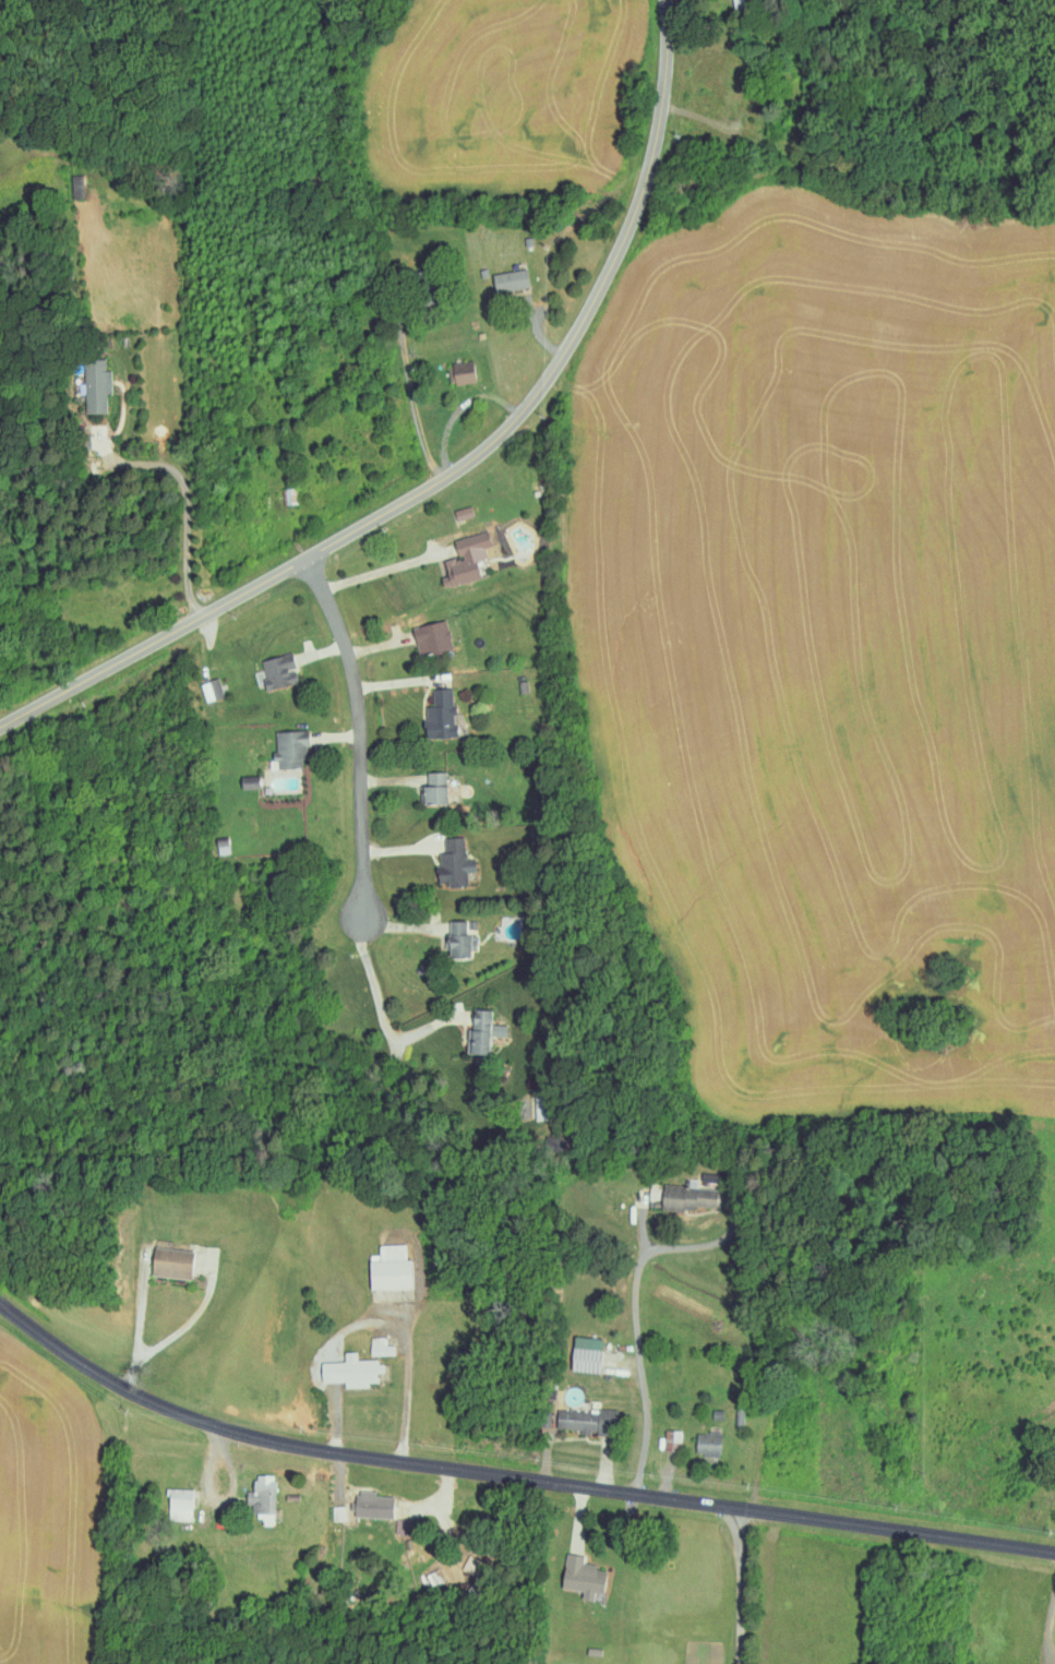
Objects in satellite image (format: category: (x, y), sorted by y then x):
building: (738, 2)
building: (509, 280)
road: (543, 335)
building: (460, 373)
building: (95, 386)
road: (413, 393)
road: (459, 409)
road: (460, 467)
building: (289, 496)
road: (185, 503)
building: (463, 513)
building: (465, 561)
road: (385, 571)
building: (431, 638)
road: (380, 649)
road: (323, 650)
building: (278, 672)
road: (400, 683)
building: (212, 691)
building: (440, 716)
road: (335, 735)
road: (355, 738)
building: (289, 750)
road: (387, 778)
building: (249, 782)
building: (433, 790)
road: (399, 849)
building: (453, 864)
road: (404, 926)
building: (459, 937)
road: (384, 1019)
building: (481, 1031)
building: (688, 1196)
building: (170, 1262)
building: (389, 1268)
road: (137, 1331)
building: (380, 1346)
building: (585, 1354)
building: (349, 1370)
road: (637, 1370)
building: (585, 1421)
building: (672, 1440)
building: (707, 1444)
road: (180, 1452)
road: (511, 1477)
road: (387, 1487)
road: (230, 1494)
building: (264, 1498)
building: (178, 1505)
building: (365, 1506)
building: (582, 1577)
road: (741, 1587)
road: (779, 1596)
road: (1050, 1628)

